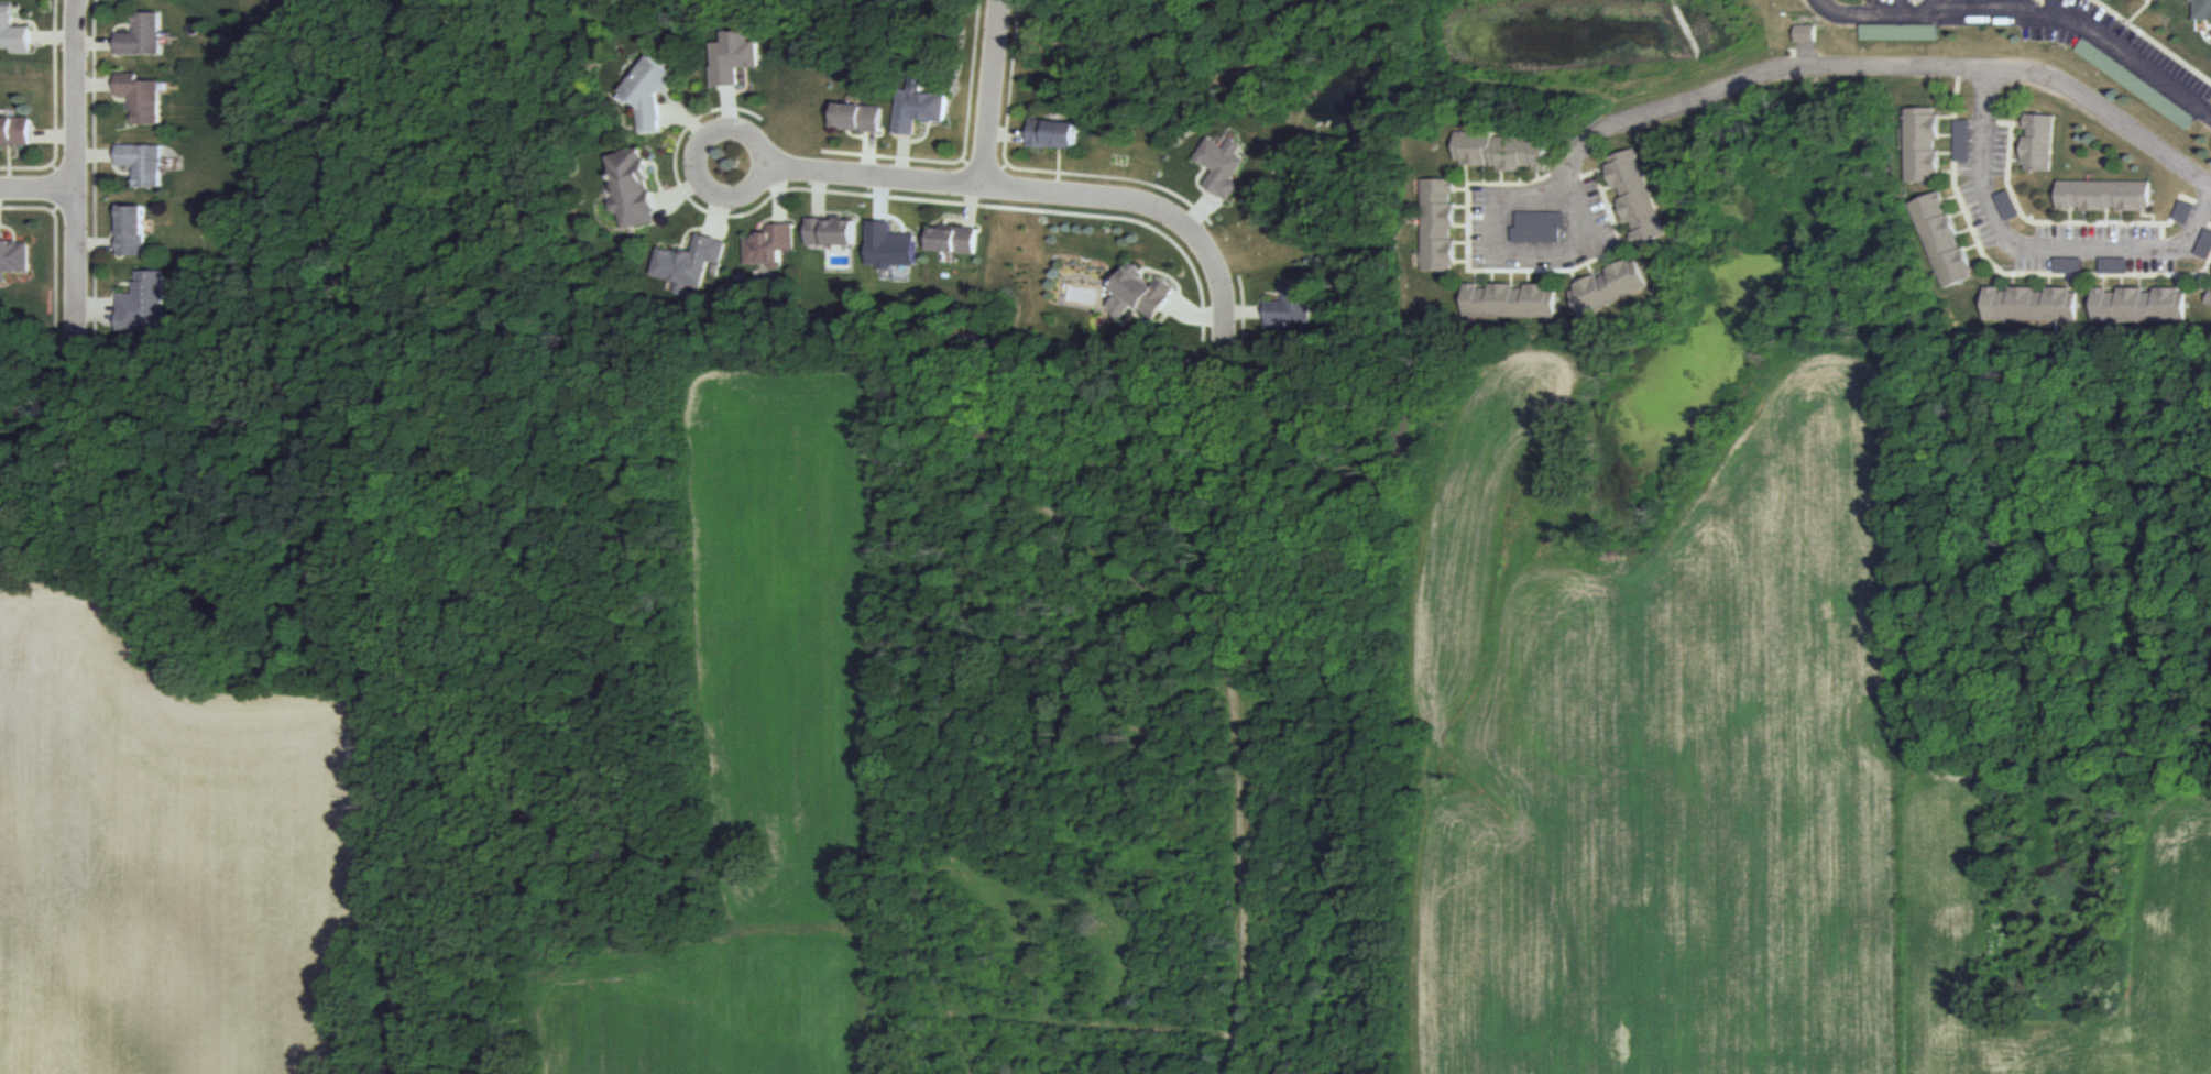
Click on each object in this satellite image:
road: (1937, 7)
road: (2021, 8)
building: (2199, 8)
road: (2137, 11)
road: (2029, 17)
building: (1900, 31)
parking lot: (1901, 31)
building: (13, 33)
building: (1806, 33)
building: (144, 36)
road: (75, 41)
road: (2152, 41)
building: (733, 56)
road: (1880, 67)
parking lot: (2135, 81)
road: (97, 85)
road: (986, 91)
building: (652, 96)
building: (143, 98)
road: (54, 108)
building: (920, 108)
building: (860, 116)
road: (1947, 117)
road: (689, 120)
road: (2017, 124)
building: (14, 131)
road: (1006, 133)
building: (1054, 133)
road: (1948, 134)
road: (52, 138)
road: (2017, 139)
parking lot: (1964, 140)
building: (2038, 140)
building: (1924, 144)
road: (868, 151)
building: (1503, 151)
road: (1948, 152)
road: (904, 154)
road: (1005, 154)
road: (7, 157)
road: (96, 157)
road: (2015, 160)
building: (143, 164)
building: (1222, 164)
road: (94, 168)
road: (986, 168)
road: (1603, 171)
road: (1948, 172)
road: (1468, 174)
road: (1485, 174)
road: (1539, 175)
road: (1522, 176)
road: (1502, 177)
road: (74, 185)
road: (1609, 187)
road: (57, 188)
road: (1463, 189)
building: (635, 190)
road: (1040, 191)
road: (36, 193)
road: (681, 193)
road: (716, 194)
road: (821, 194)
road: (780, 195)
building: (2104, 195)
building: (1637, 196)
road: (1951, 197)
road: (970, 205)
road: (1616, 205)
parking lot: (2007, 205)
road: (1464, 207)
building: (2183, 210)
parking lot: (2183, 212)
road: (1959, 213)
road: (721, 216)
road: (2086, 216)
road: (2149, 216)
road: (714, 217)
road: (2070, 217)
road: (2105, 217)
road: (2122, 217)
parking lot: (1542, 219)
road: (2061, 221)
road: (1621, 222)
building: (1440, 224)
road: (2209, 224)
road: (1464, 226)
building: (1539, 226)
road: (1966, 230)
building: (134, 232)
building: (832, 232)
parking lot: (1537, 235)
building: (953, 239)
road: (1628, 239)
building: (1945, 241)
road: (1464, 243)
building: (2204, 243)
road: (53, 244)
road: (96, 245)
parking lot: (2204, 245)
road: (1973, 248)
road: (2034, 248)
building: (773, 249)
road: (1623, 254)
road: (1517, 256)
building: (15, 257)
road: (1464, 262)
road: (1607, 262)
building: (689, 263)
road: (1981, 263)
parking lot: (2069, 265)
parking lot: (2114, 265)
road: (1591, 271)
road: (2000, 271)
road: (1512, 272)
road: (2207, 273)
road: (1477, 277)
road: (1493, 277)
road: (1512, 277)
road: (1530, 277)
road: (1548, 277)
road: (1576, 277)
road: (1996, 277)
road: (2013, 281)
road: (2033, 281)
road: (2050, 281)
road: (2104, 281)
road: (2068, 282)
road: (2122, 282)
road: (2139, 282)
road: (2158, 282)
road: (2176, 282)
road: (2200, 286)
building: (1610, 287)
building: (1145, 291)
building: (2209, 299)
building: (1512, 300)
building: (2032, 304)
building: (2138, 304)
building: (1292, 305)
building: (144, 306)
road: (97, 313)
road: (1195, 313)
road: (1246, 314)
crop: (1657, 736)
crop: (767, 757)
crop: (168, 863)
crop: (2172, 906)

